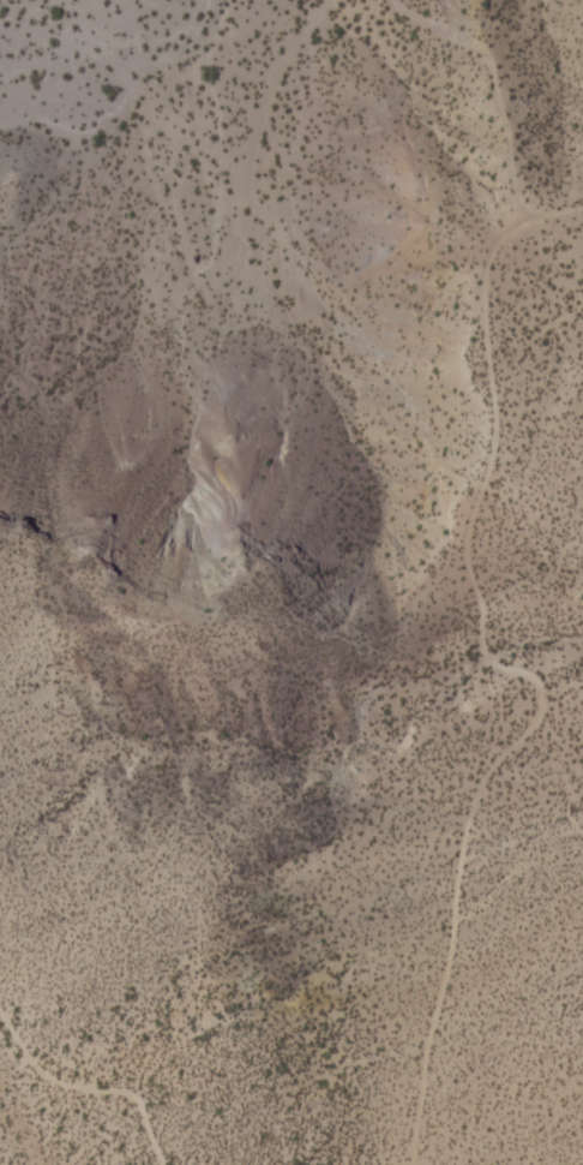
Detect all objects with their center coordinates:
road: (306, 246)
road: (473, 826)
road: (88, 1089)

